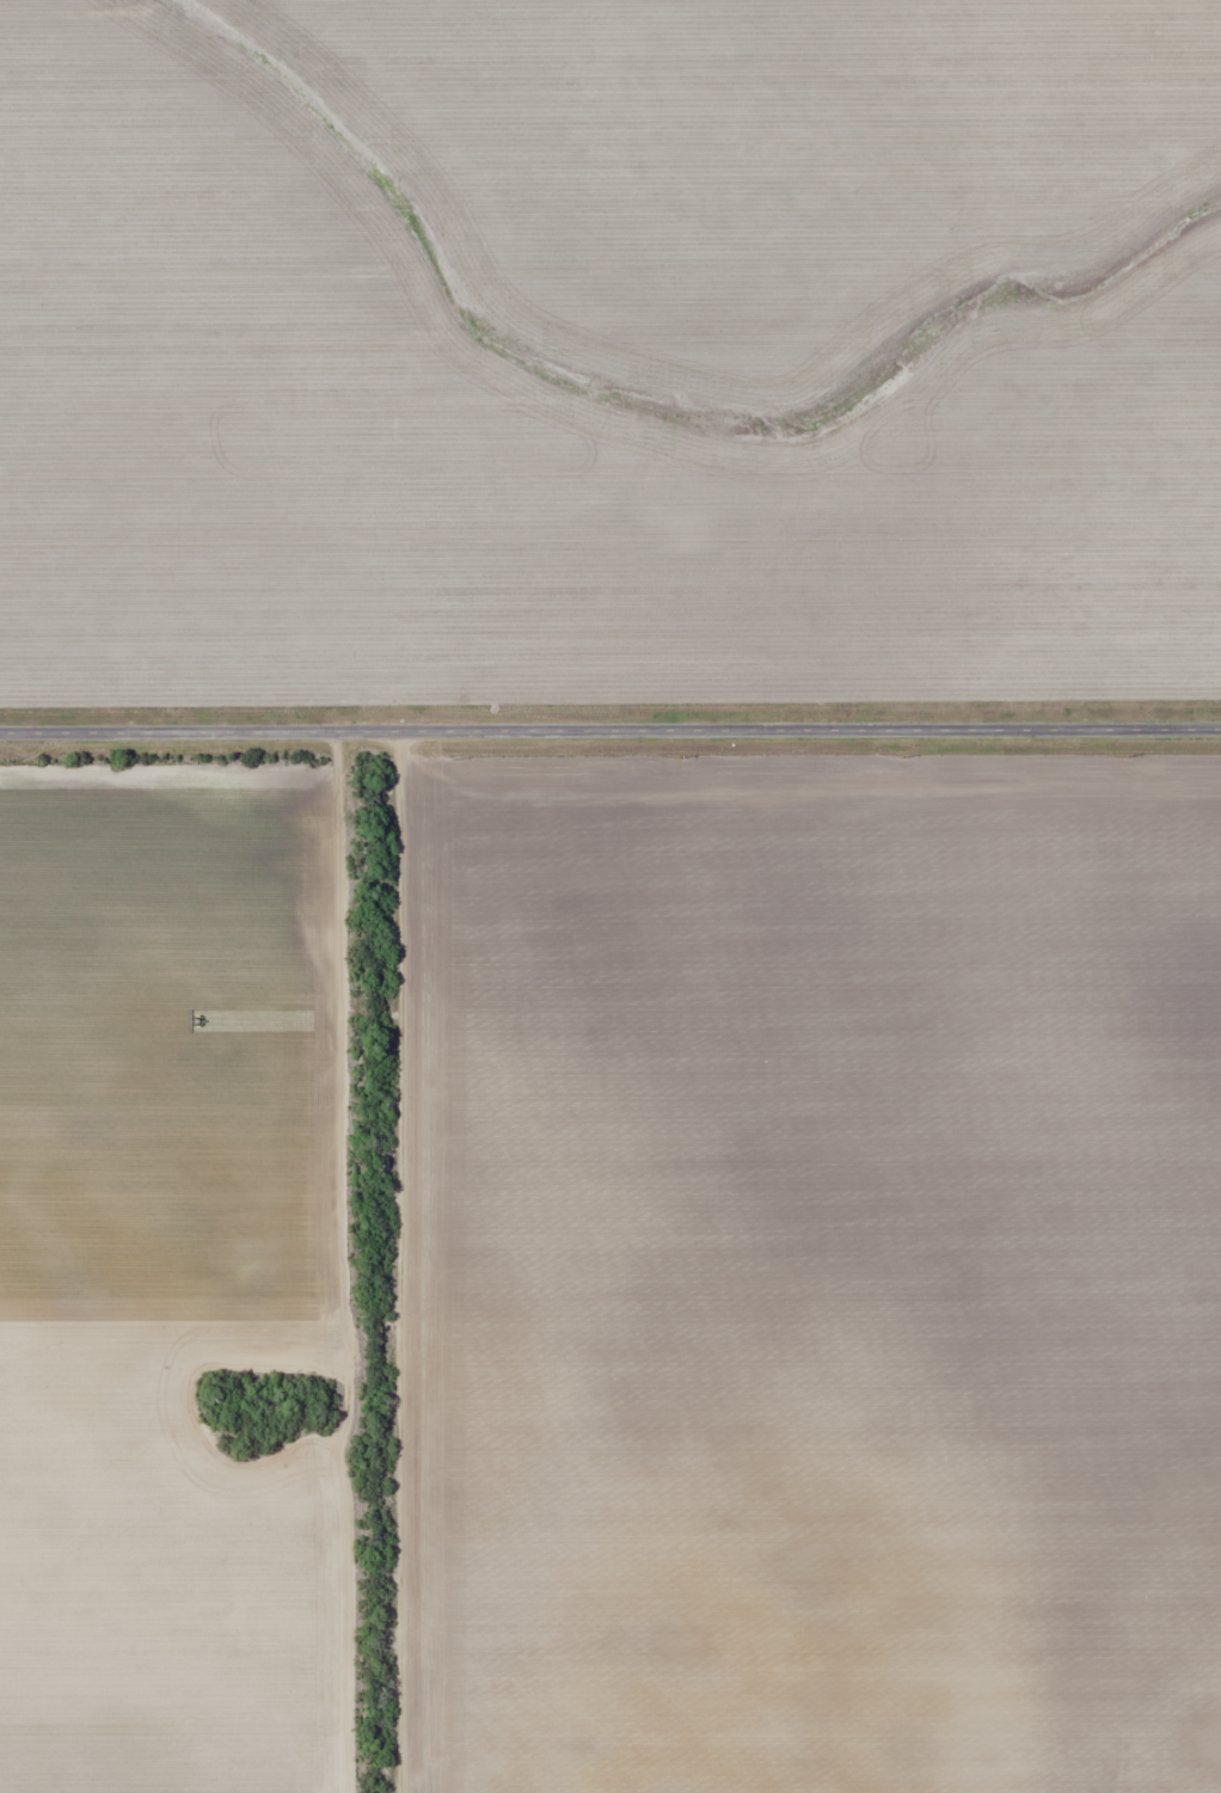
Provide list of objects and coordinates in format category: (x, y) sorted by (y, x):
road: (610, 729)

